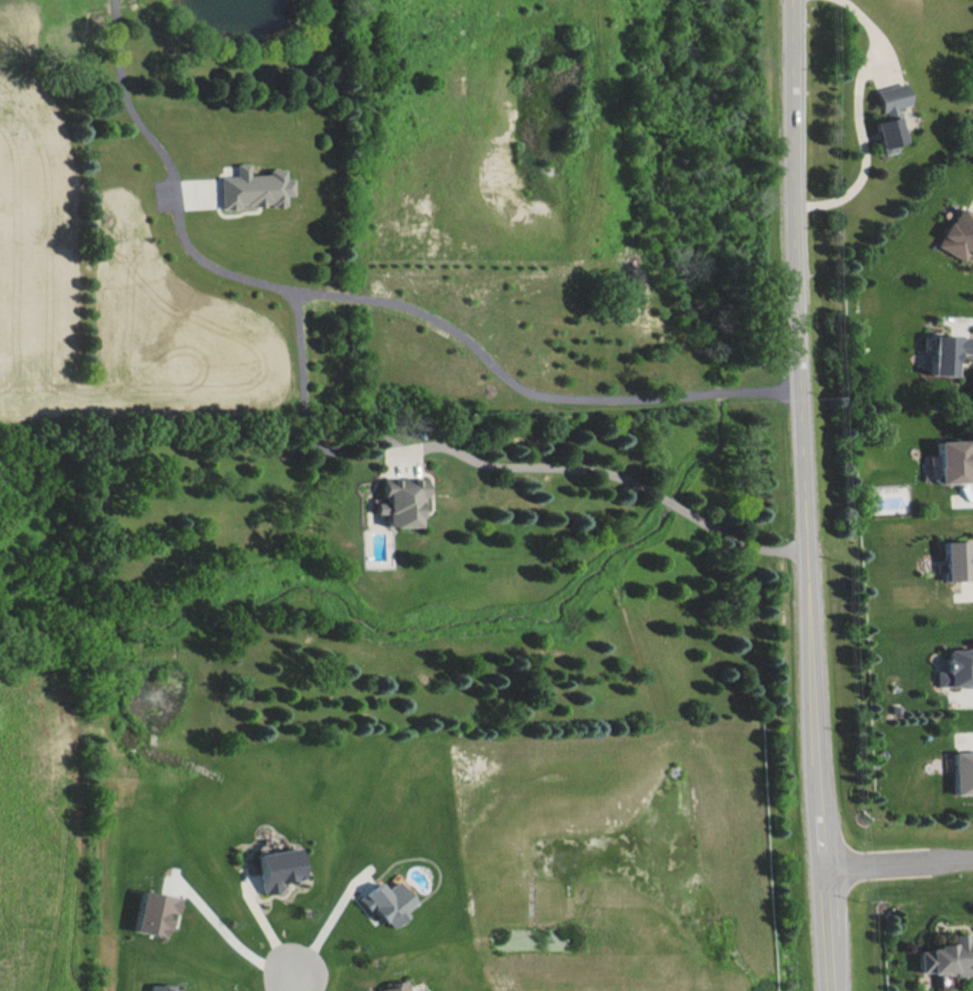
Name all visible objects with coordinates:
road: (124, 97)
building: (887, 115)
road: (856, 119)
building: (251, 187)
crop: (33, 229)
building: (957, 233)
crop: (193, 277)
road: (458, 336)
building: (945, 353)
road: (306, 422)
road: (797, 432)
building: (951, 461)
road: (619, 478)
building: (402, 501)
building: (955, 560)
building: (954, 668)
building: (962, 771)
road: (898, 860)
building: (275, 867)
building: (385, 902)
building: (153, 911)
road: (327, 913)
road: (264, 926)
road: (826, 928)
road: (228, 932)
road: (971, 943)
building: (944, 956)
road: (294, 978)
building: (391, 986)
building: (164, 987)

